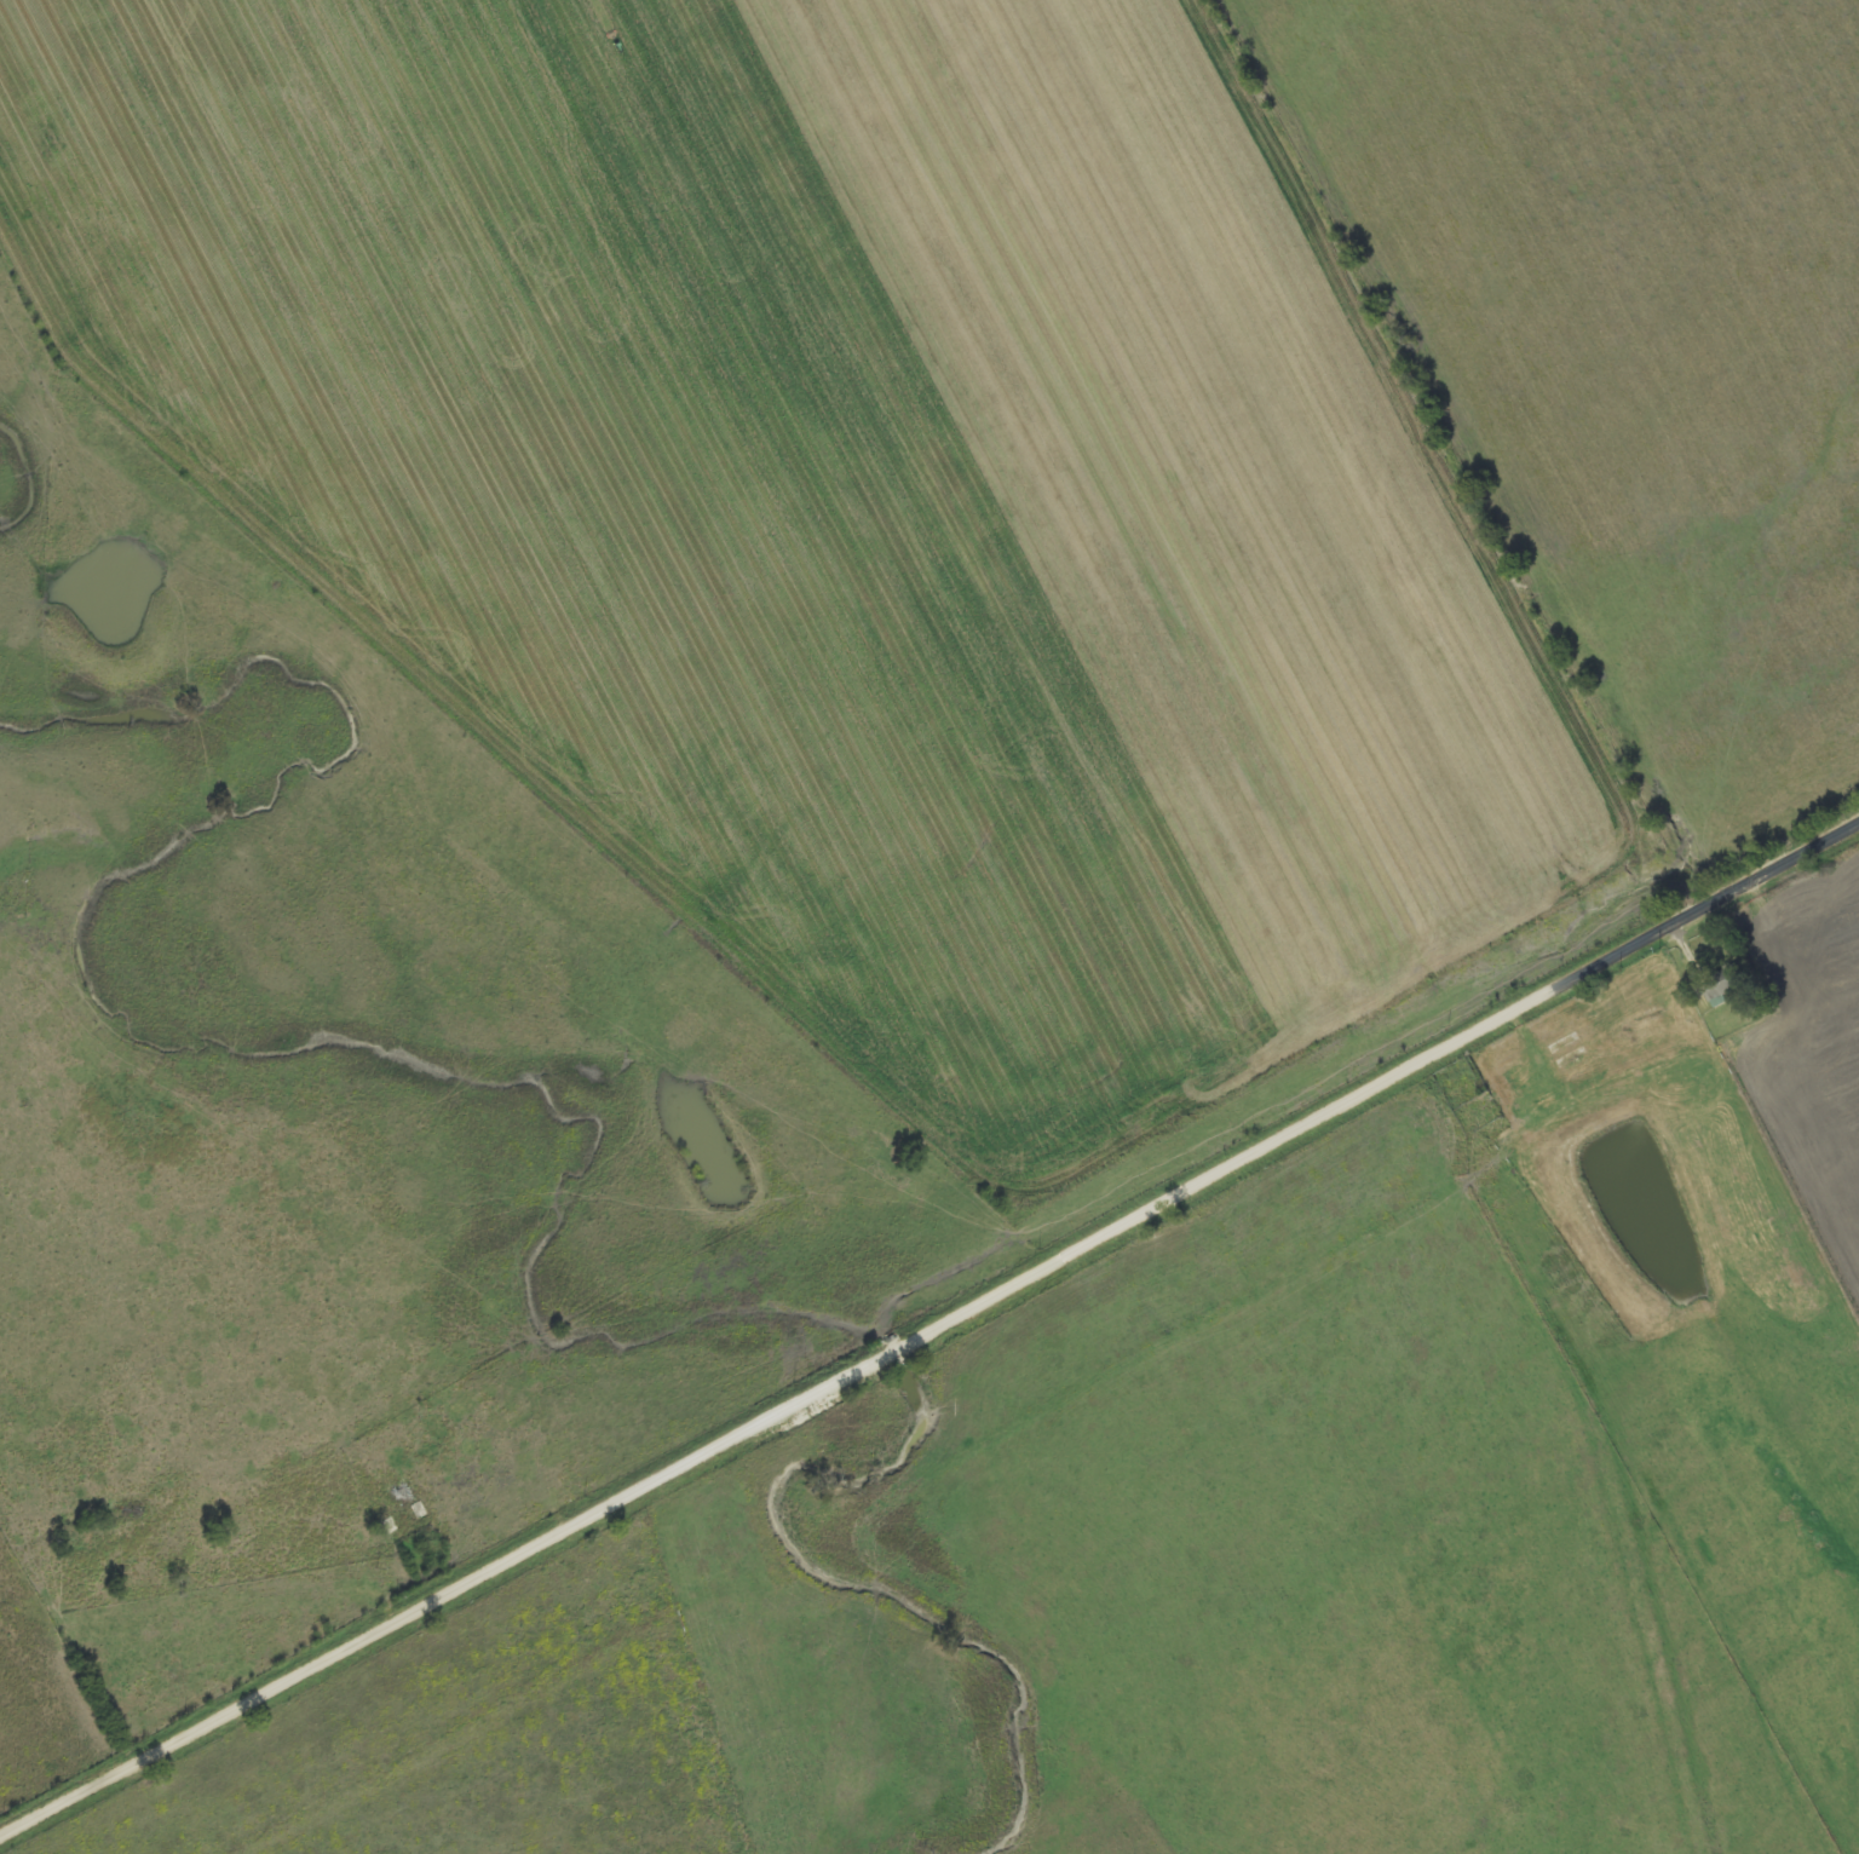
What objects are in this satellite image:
building: (1725, 985)
road: (929, 1336)

